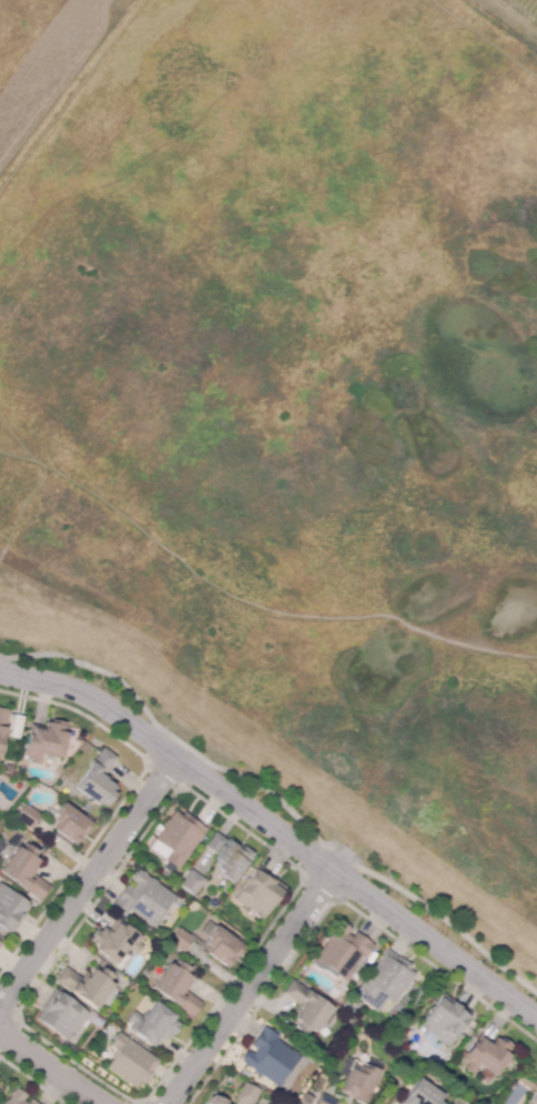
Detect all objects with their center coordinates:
airport: (33, 47)
building: (2, 723)
building: (17, 726)
road: (168, 733)
building: (45, 741)
building: (98, 779)
building: (28, 816)
building: (70, 823)
road: (276, 831)
building: (179, 837)
building: (214, 841)
road: (341, 855)
building: (233, 860)
building: (24, 871)
road: (88, 880)
building: (192, 882)
building: (259, 892)
building: (144, 899)
building: (10, 910)
road: (449, 922)
building: (181, 940)
building: (115, 941)
building: (0, 943)
building: (223, 946)
building: (343, 951)
building: (386, 979)
building: (87, 984)
building: (176, 987)
road: (249, 987)
building: (306, 1009)
building: (61, 1014)
building: (445, 1019)
building: (154, 1024)
building: (487, 1052)
building: (271, 1057)
building: (131, 1061)
road: (55, 1065)
building: (358, 1083)
building: (247, 1094)
building: (422, 1094)
building: (16, 1097)
building: (534, 1097)
building: (325, 1100)
building: (217, 1101)
building: (31, 1102)
building: (264, 1103)

